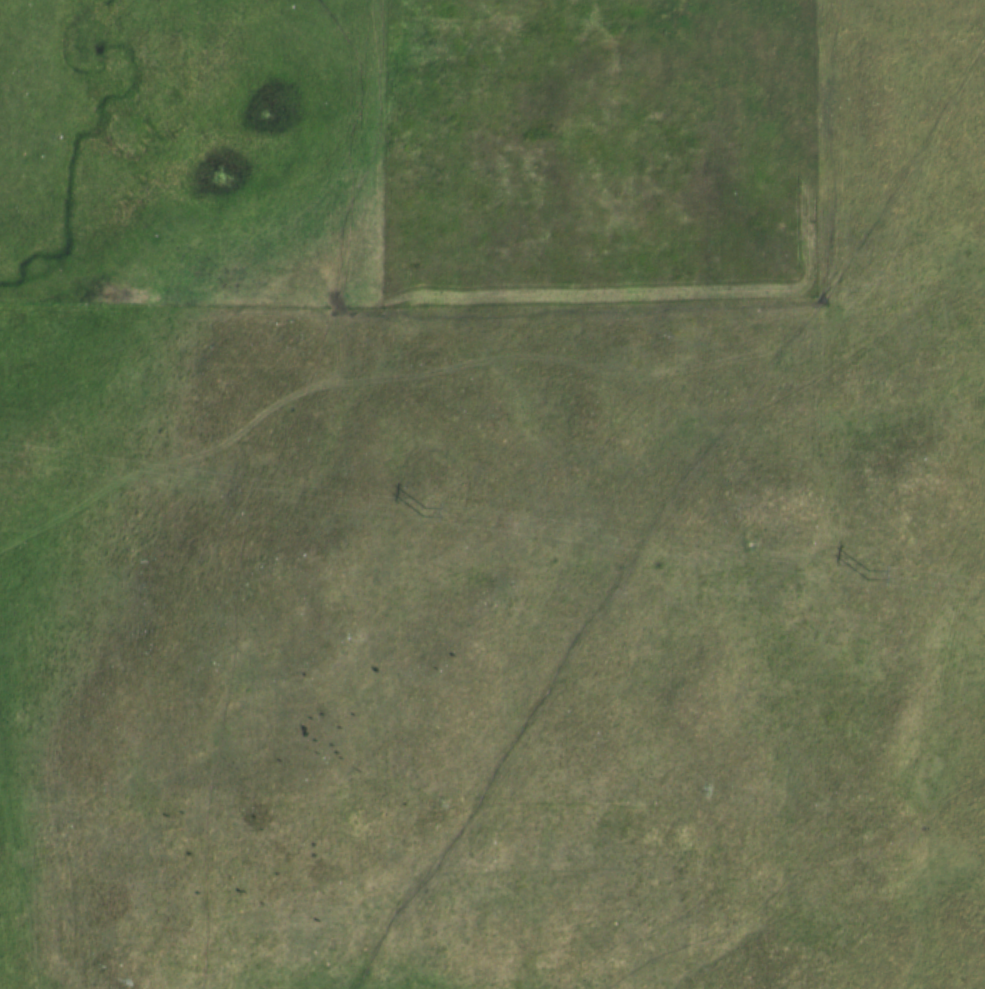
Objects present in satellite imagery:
power tower: (419, 512)
power tower: (862, 574)

